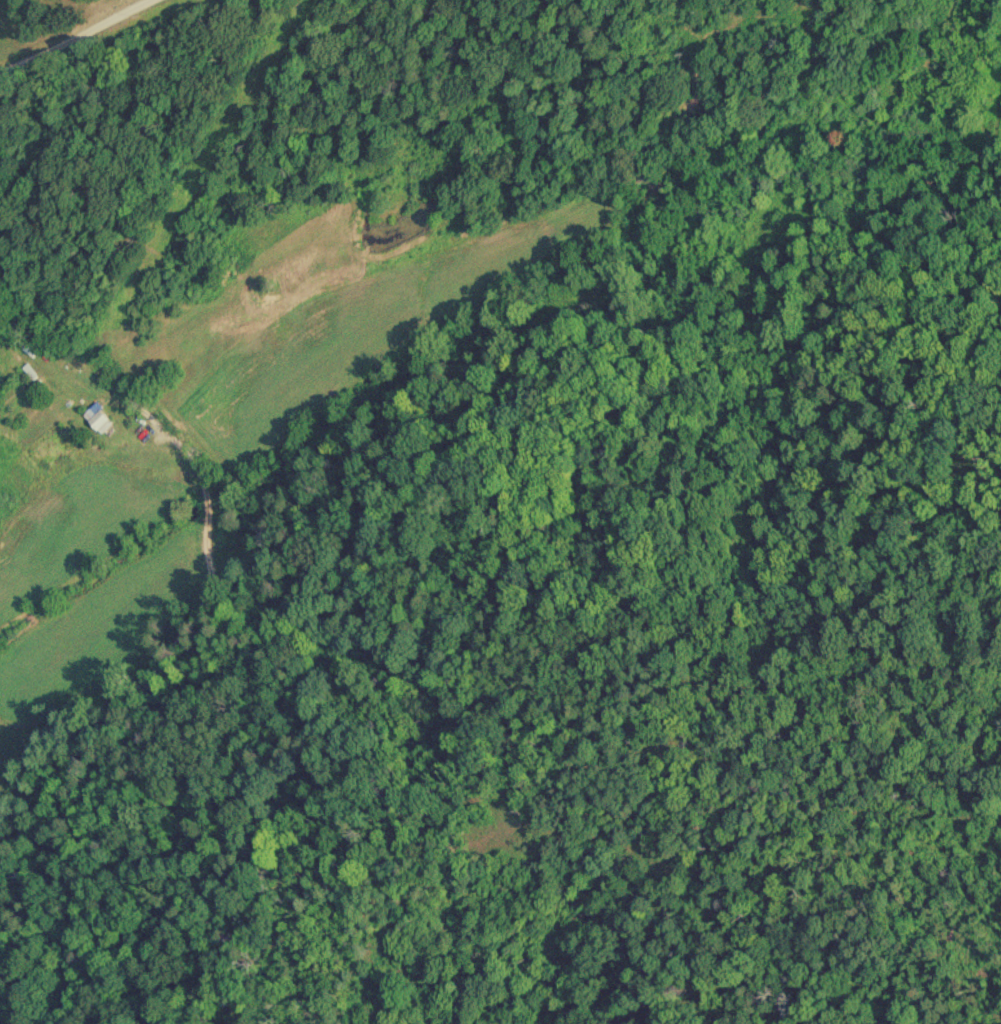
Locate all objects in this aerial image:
road: (83, 33)
road: (183, 456)
road: (68, 791)

